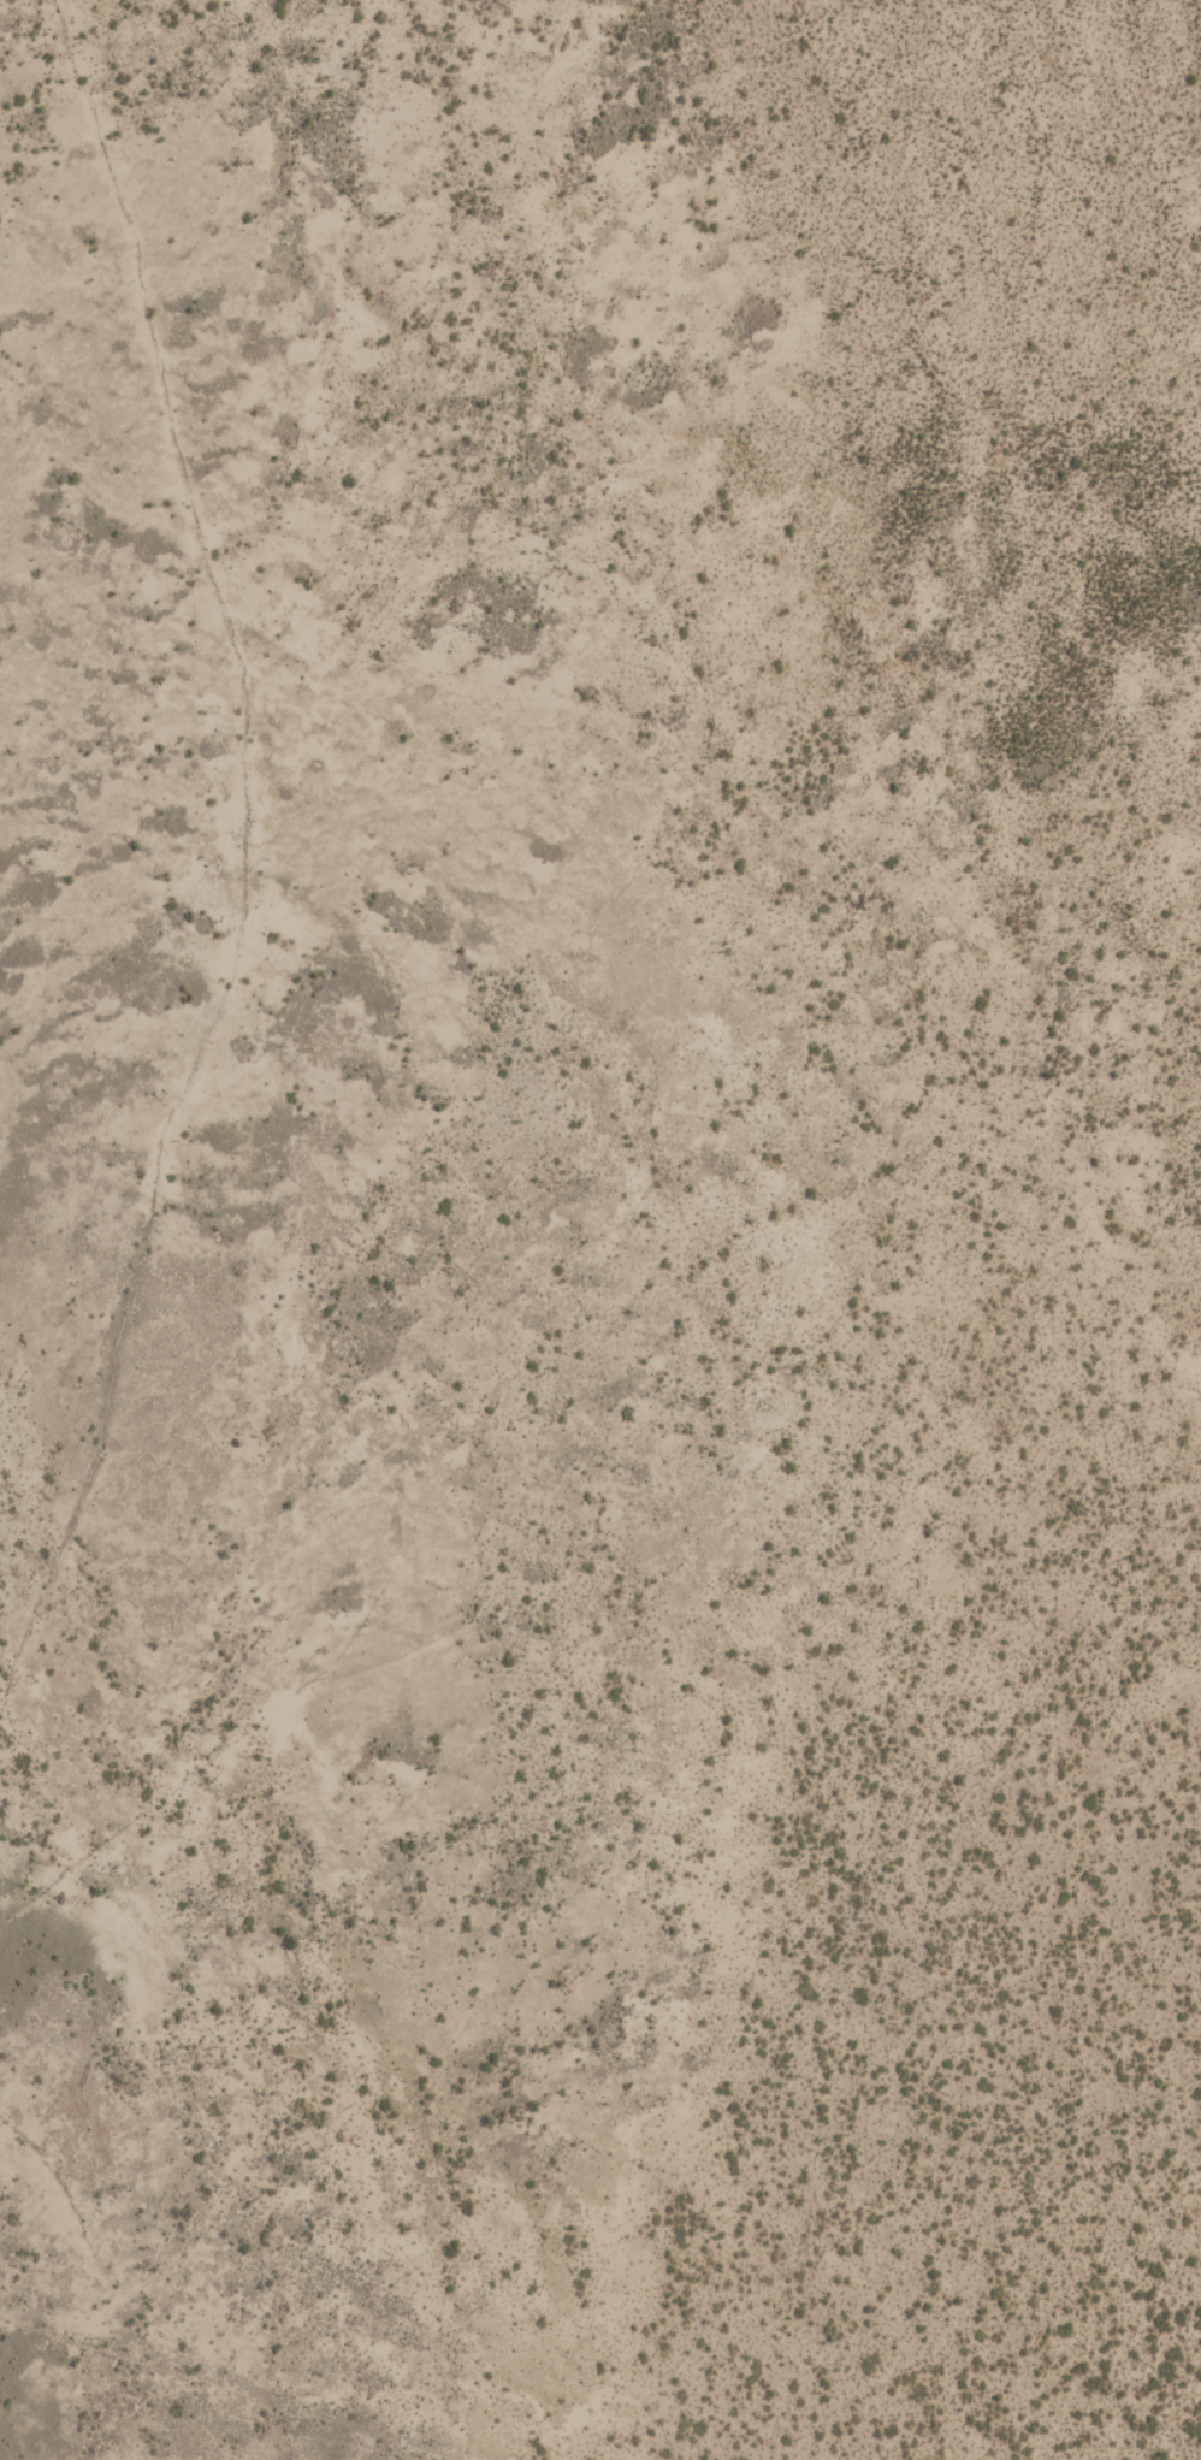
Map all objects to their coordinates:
road: (238, 2387)

